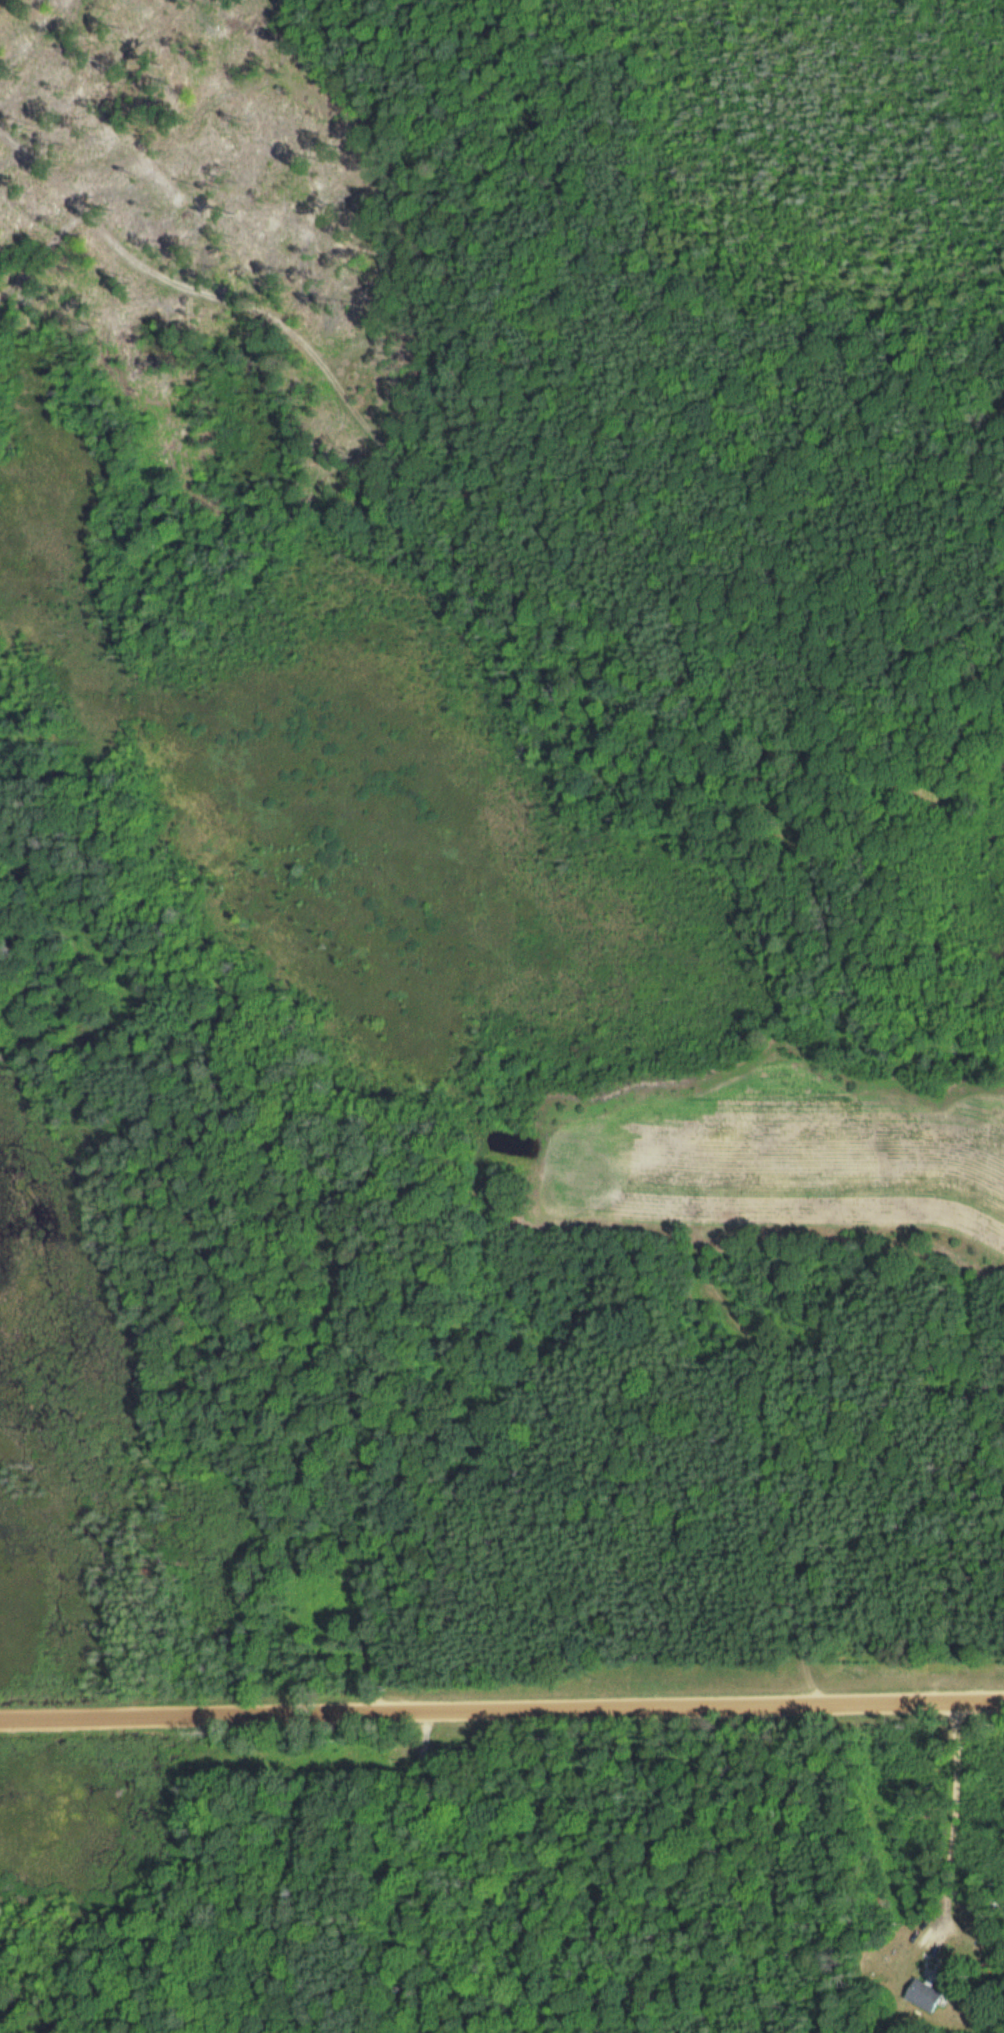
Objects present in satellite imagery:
road: (42, 253)
road: (473, 496)
road: (502, 1711)
road: (415, 1878)
building: (920, 1994)

